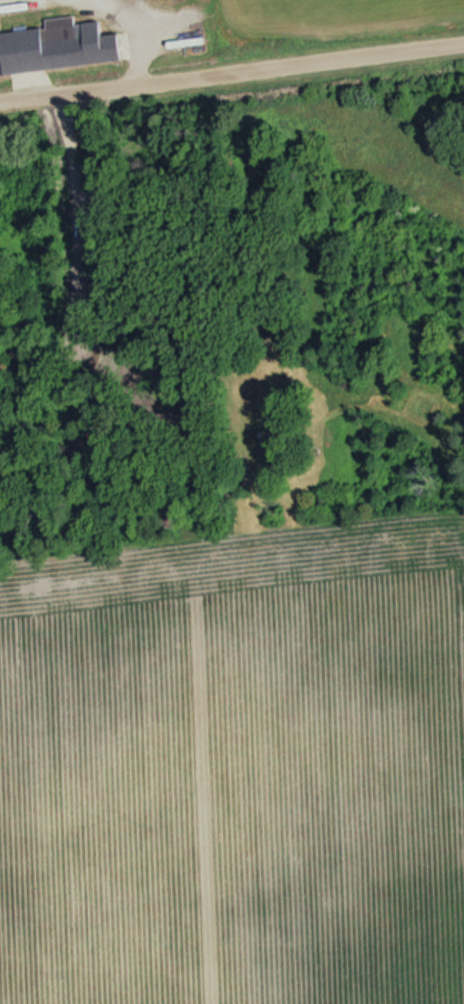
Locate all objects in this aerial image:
road: (135, 39)
building: (58, 45)
road: (231, 76)

